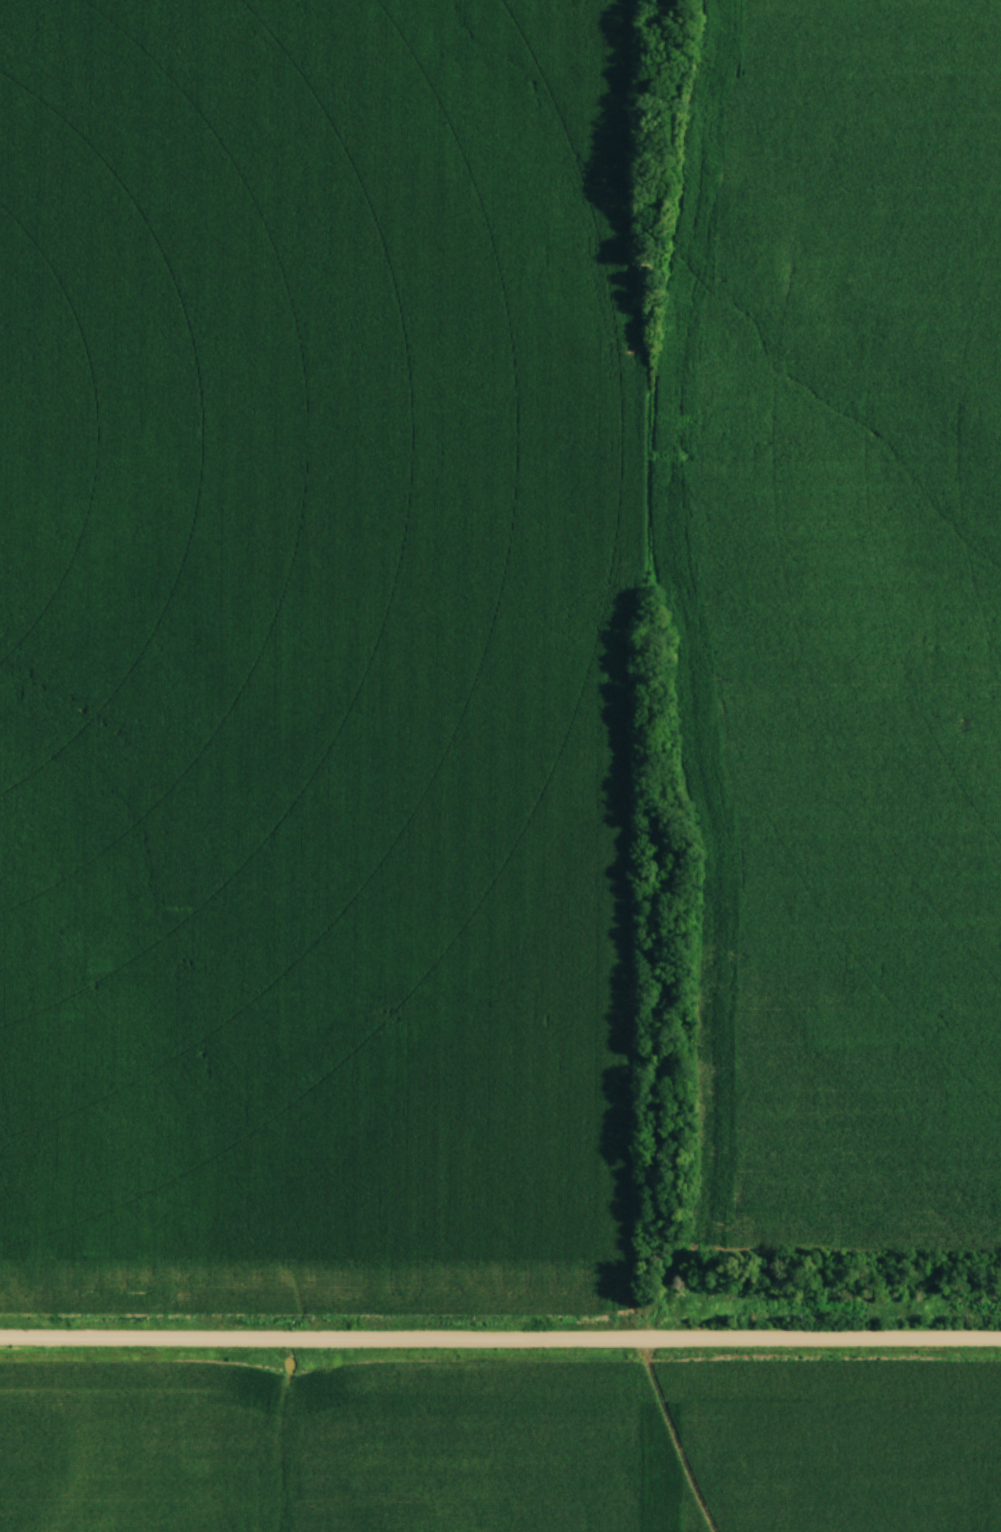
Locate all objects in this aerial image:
crop: (842, 608)
crop: (316, 652)
road: (500, 1339)

